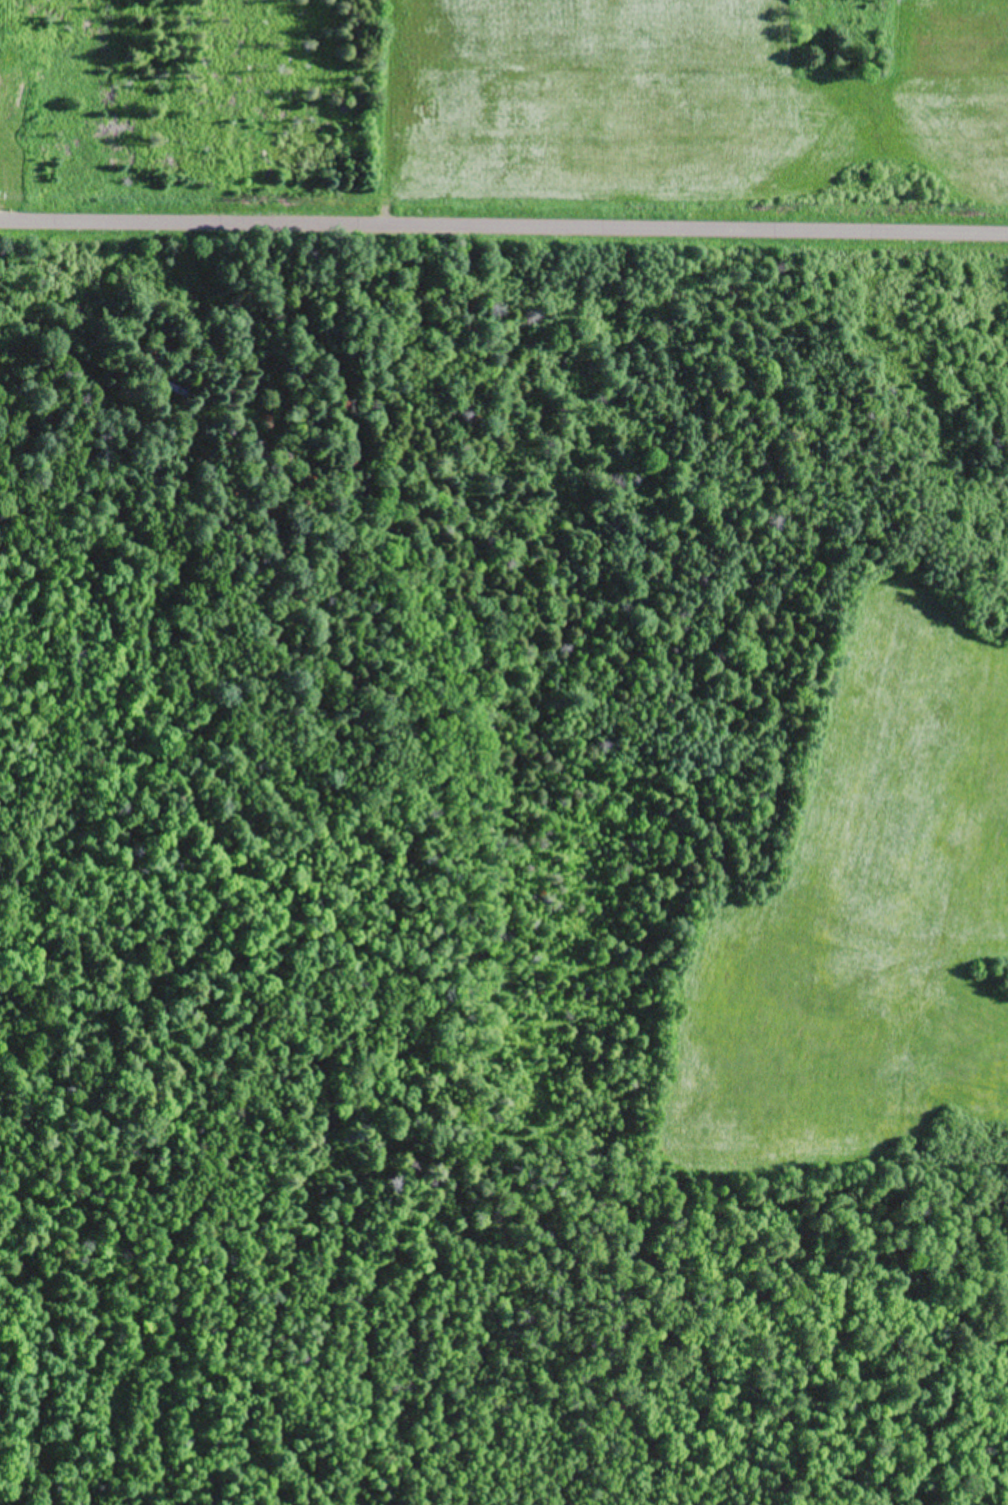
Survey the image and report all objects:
road: (504, 237)

